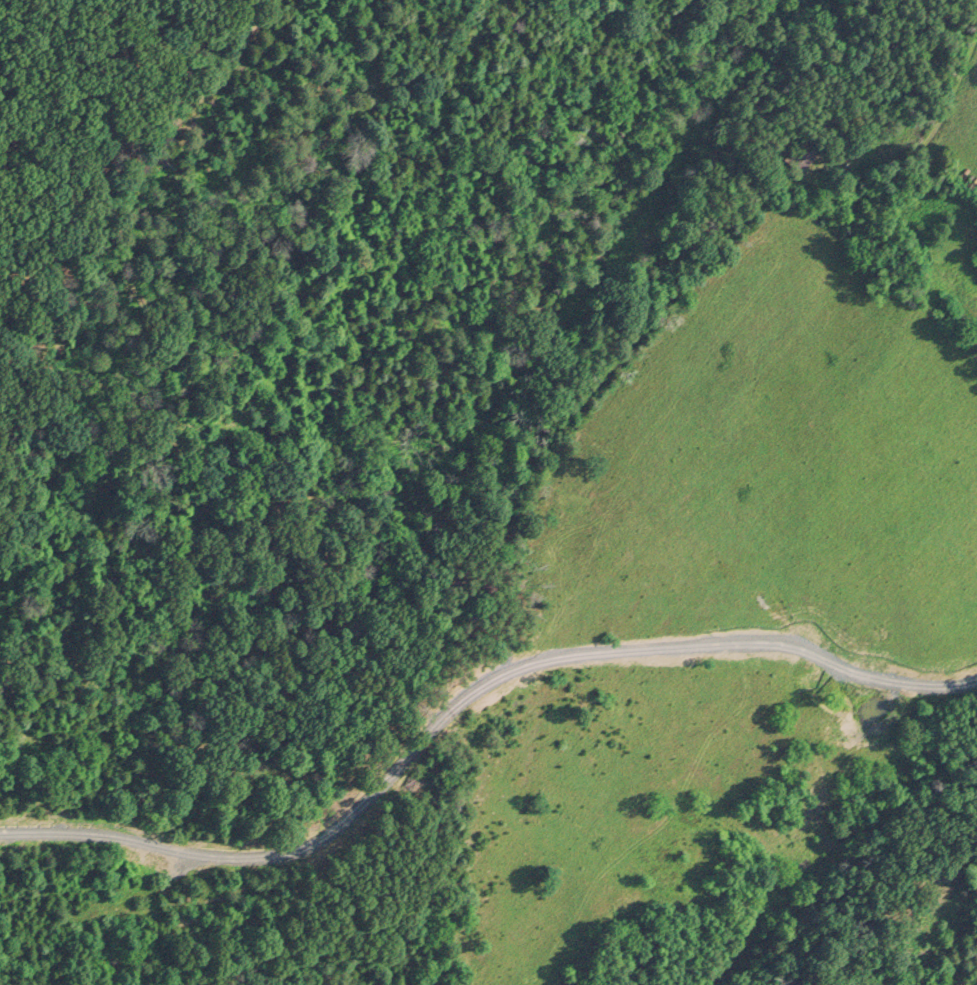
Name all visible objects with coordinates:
road: (924, 158)
road: (512, 674)
road: (138, 850)

